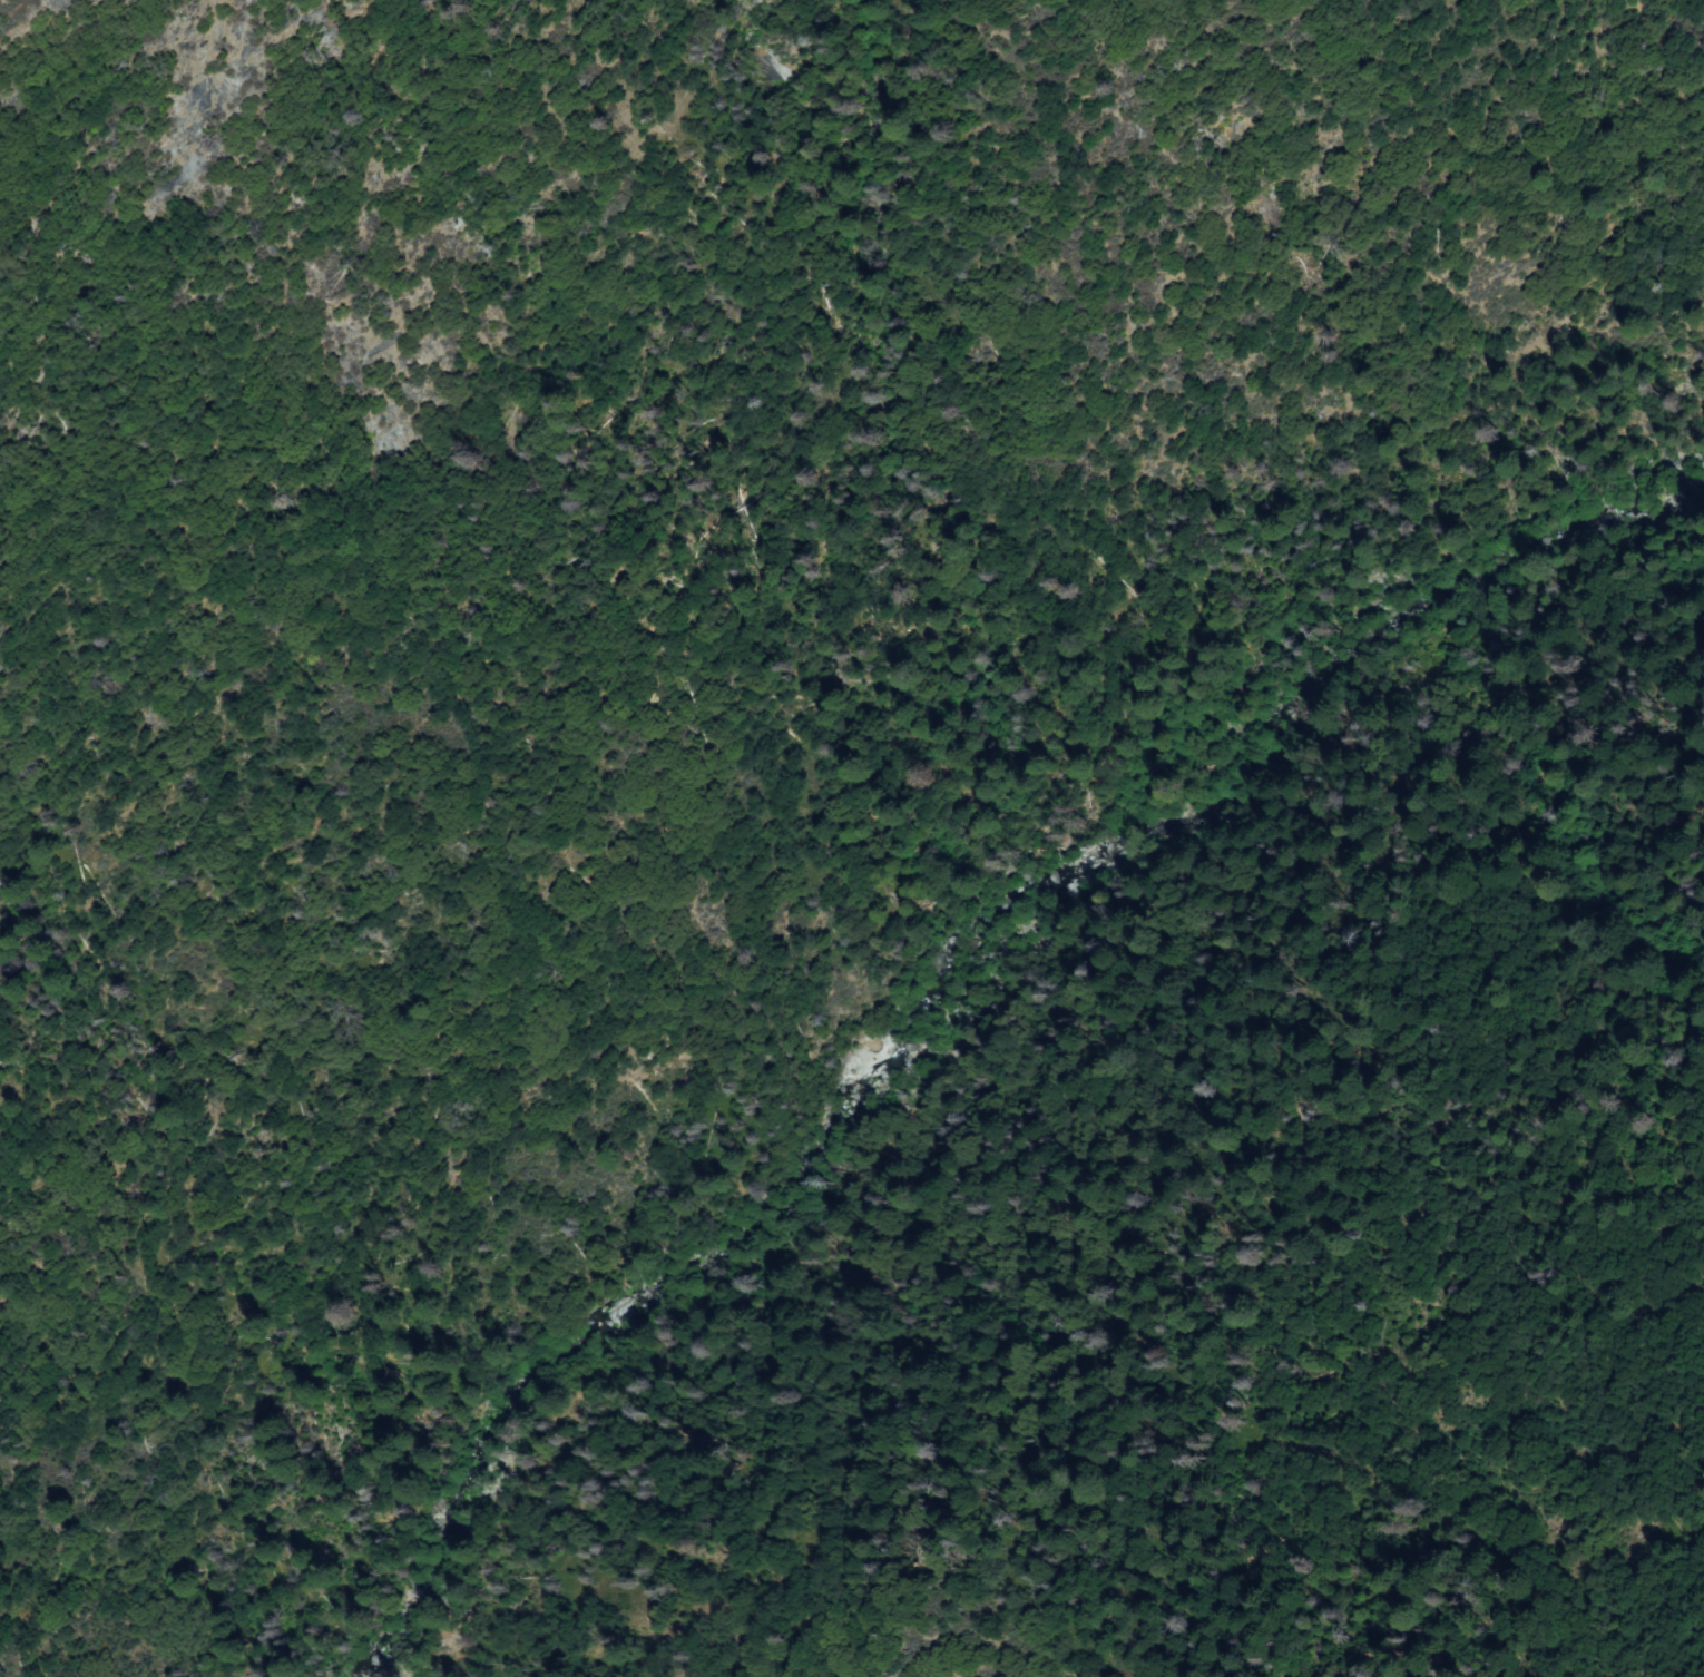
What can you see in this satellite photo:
river: (964, 1000)

